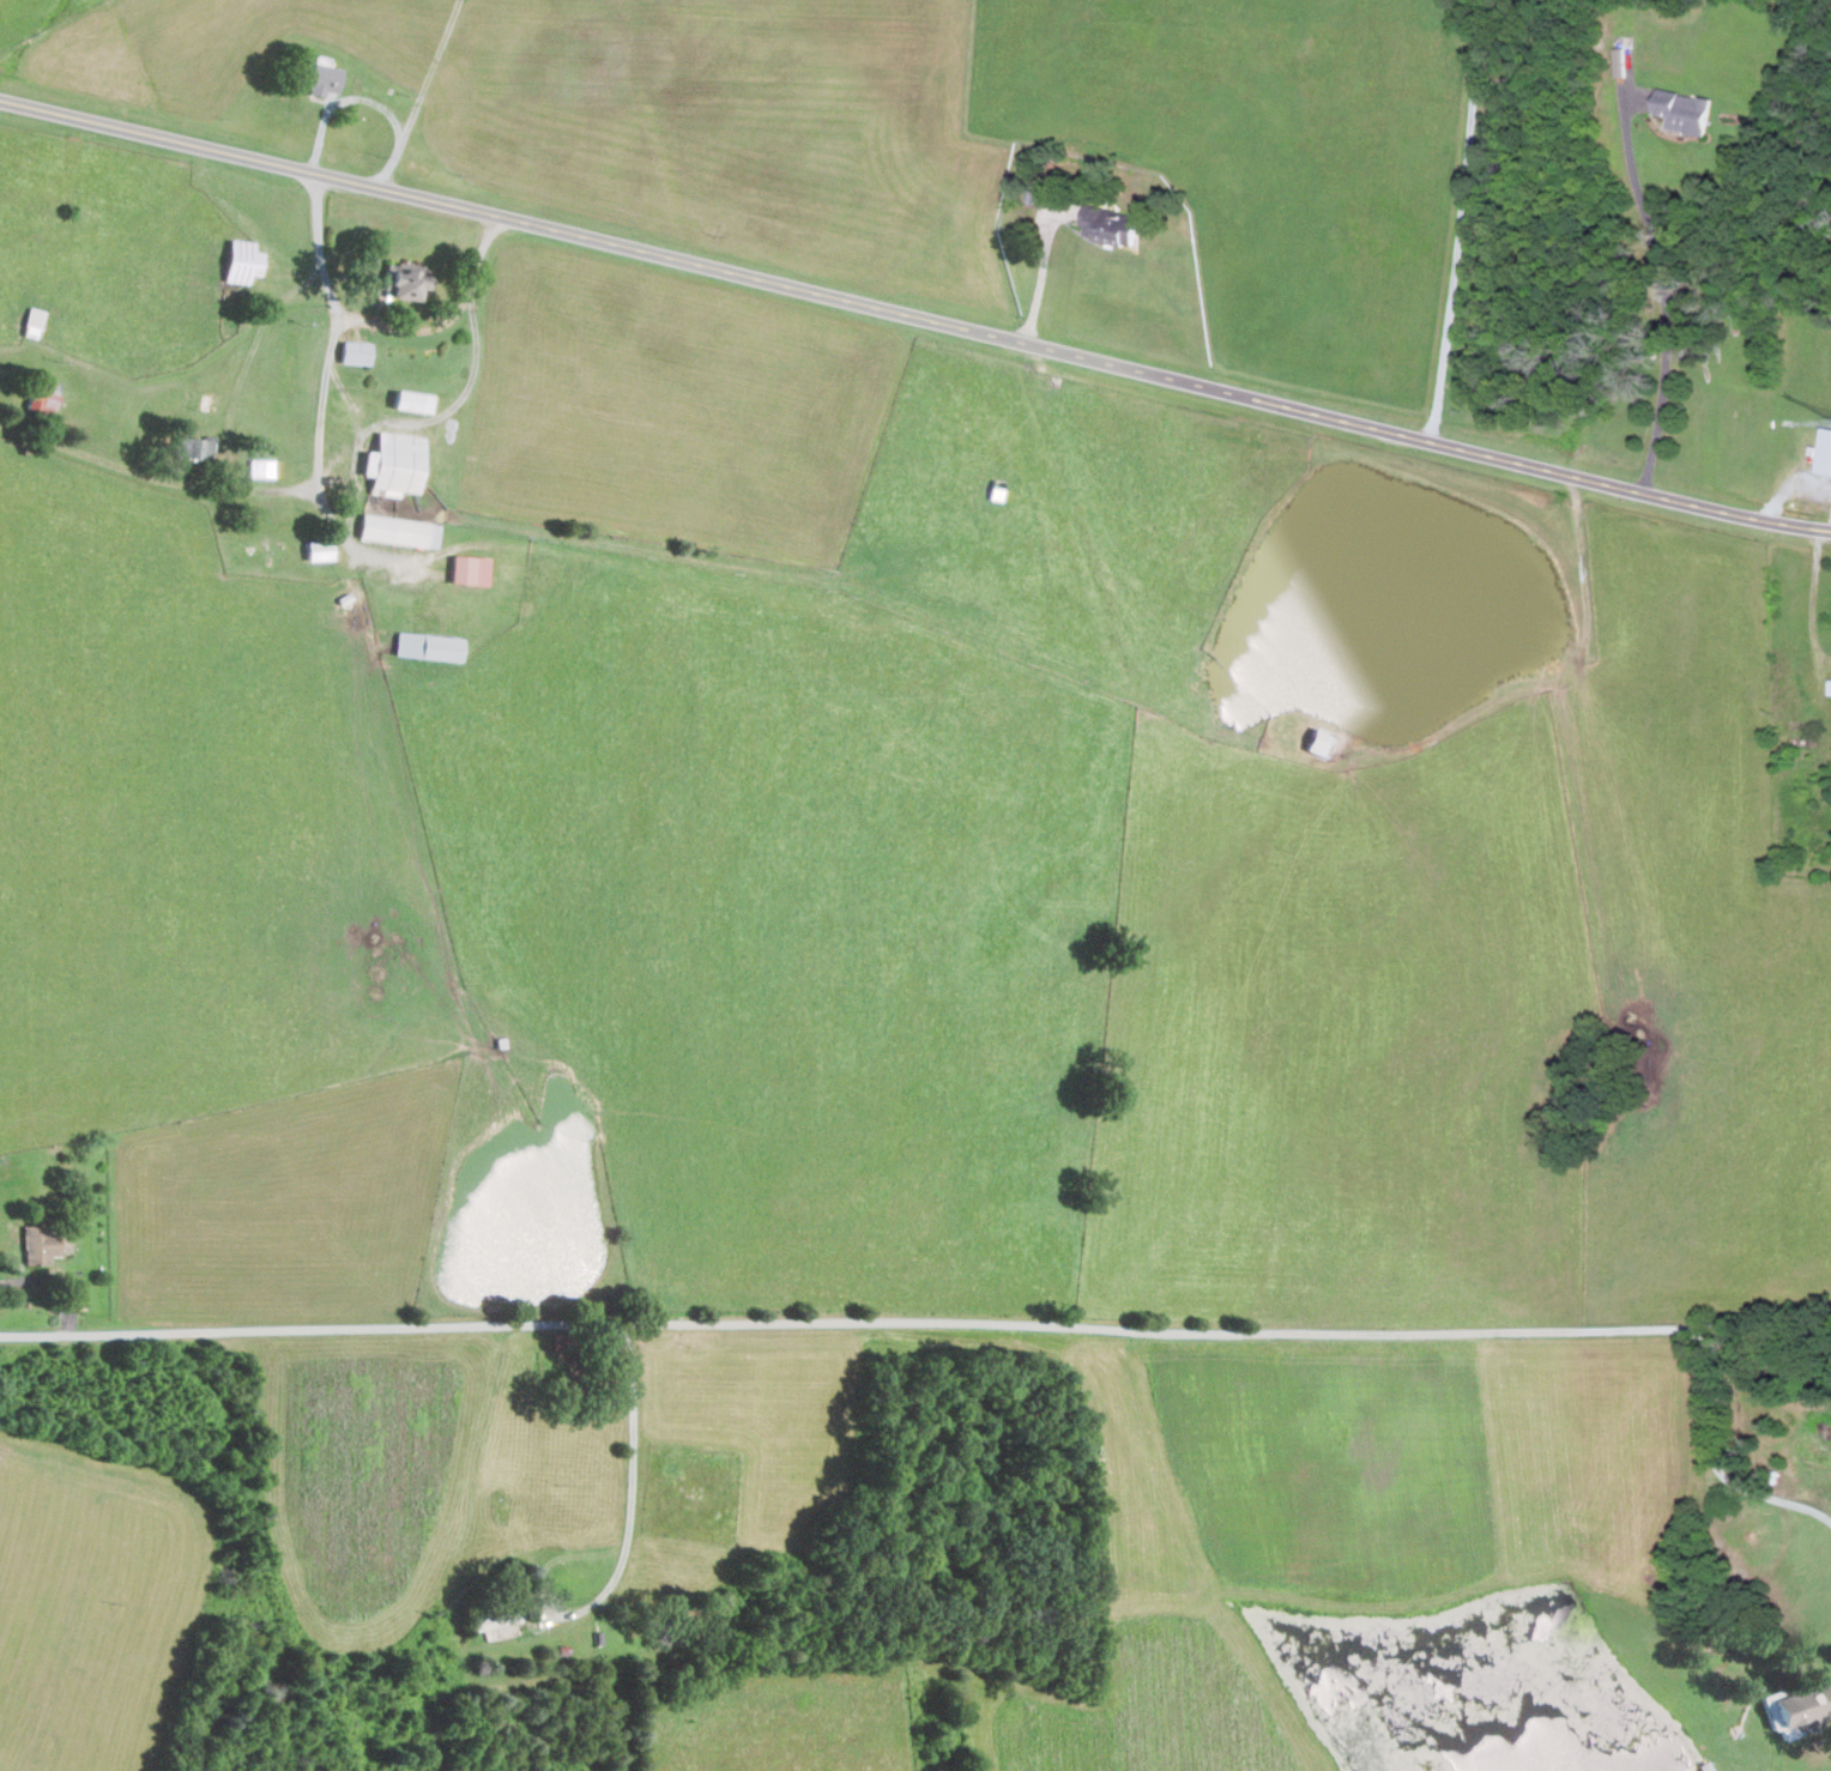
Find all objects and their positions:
building: (1621, 60)
building: (320, 77)
road: (418, 96)
road: (339, 101)
road: (1462, 219)
building: (1113, 223)
building: (241, 260)
building: (403, 280)
road: (1041, 280)
road: (1666, 296)
road: (915, 318)
road: (448, 319)
building: (355, 351)
building: (43, 394)
building: (412, 399)
building: (193, 446)
building: (1826, 452)
building: (394, 463)
building: (260, 466)
road: (312, 488)
road: (1790, 491)
building: (399, 530)
road: (353, 542)
building: (319, 549)
building: (470, 569)
road: (1814, 597)
building: (429, 645)
building: (1324, 742)
building: (40, 1243)
building: (78, 1296)
road: (983, 1322)
road: (632, 1483)
building: (1797, 1709)

